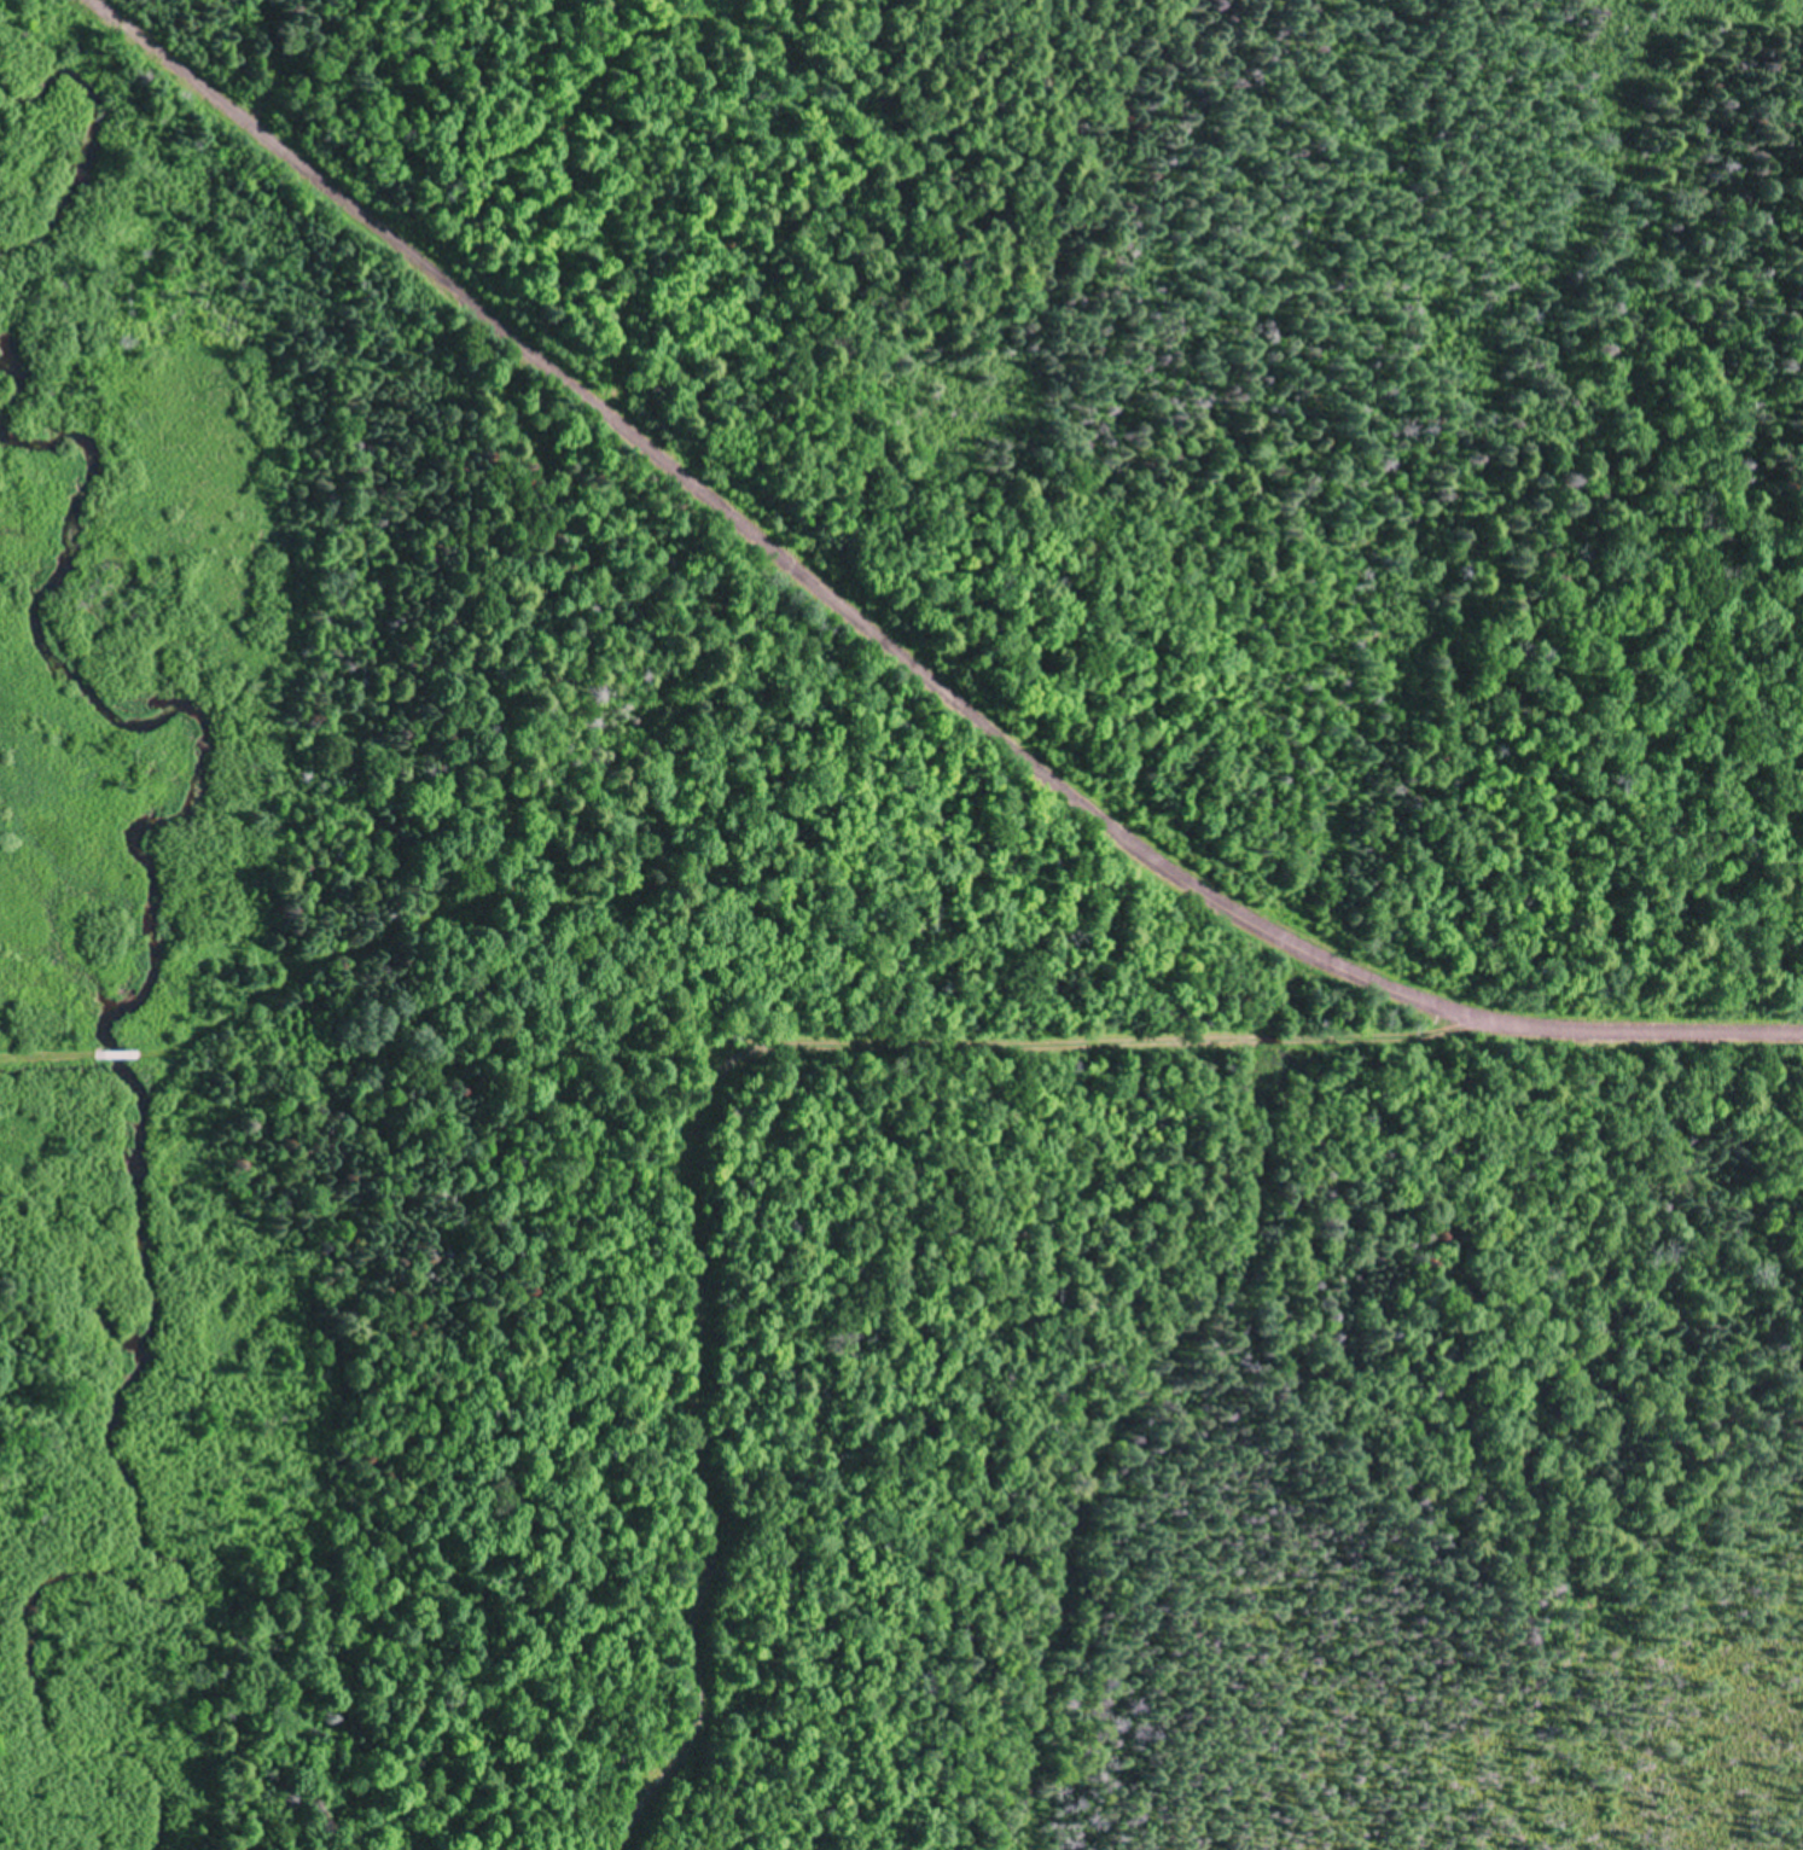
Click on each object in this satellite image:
road: (890, 648)
road: (715, 1142)

